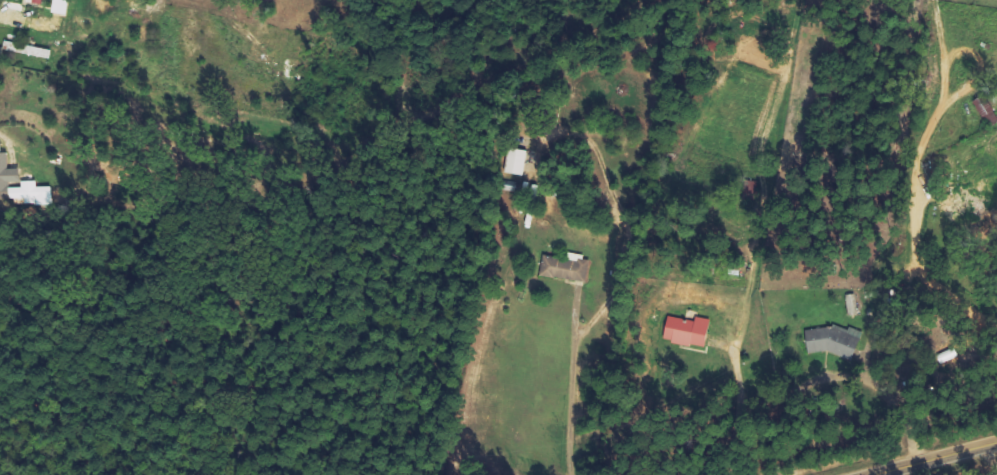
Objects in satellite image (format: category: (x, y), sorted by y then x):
building: (62, 0)
building: (28, 50)
building: (518, 162)
road: (916, 180)
building: (24, 192)
building: (566, 268)
building: (689, 331)
building: (833, 341)
road: (936, 459)

